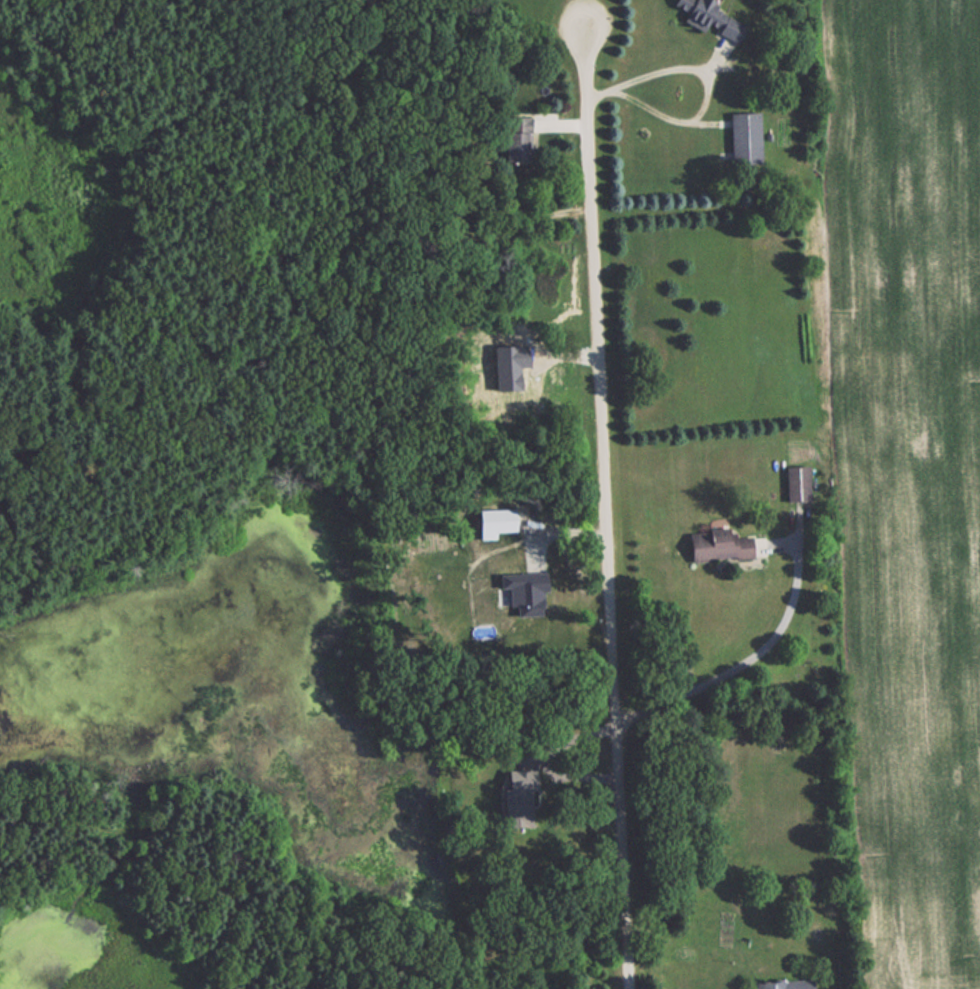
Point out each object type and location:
building: (712, 18)
road: (657, 70)
road: (677, 118)
building: (744, 138)
building: (516, 146)
building: (796, 483)
road: (604, 507)
building: (716, 543)
road: (745, 664)
building: (783, 984)

